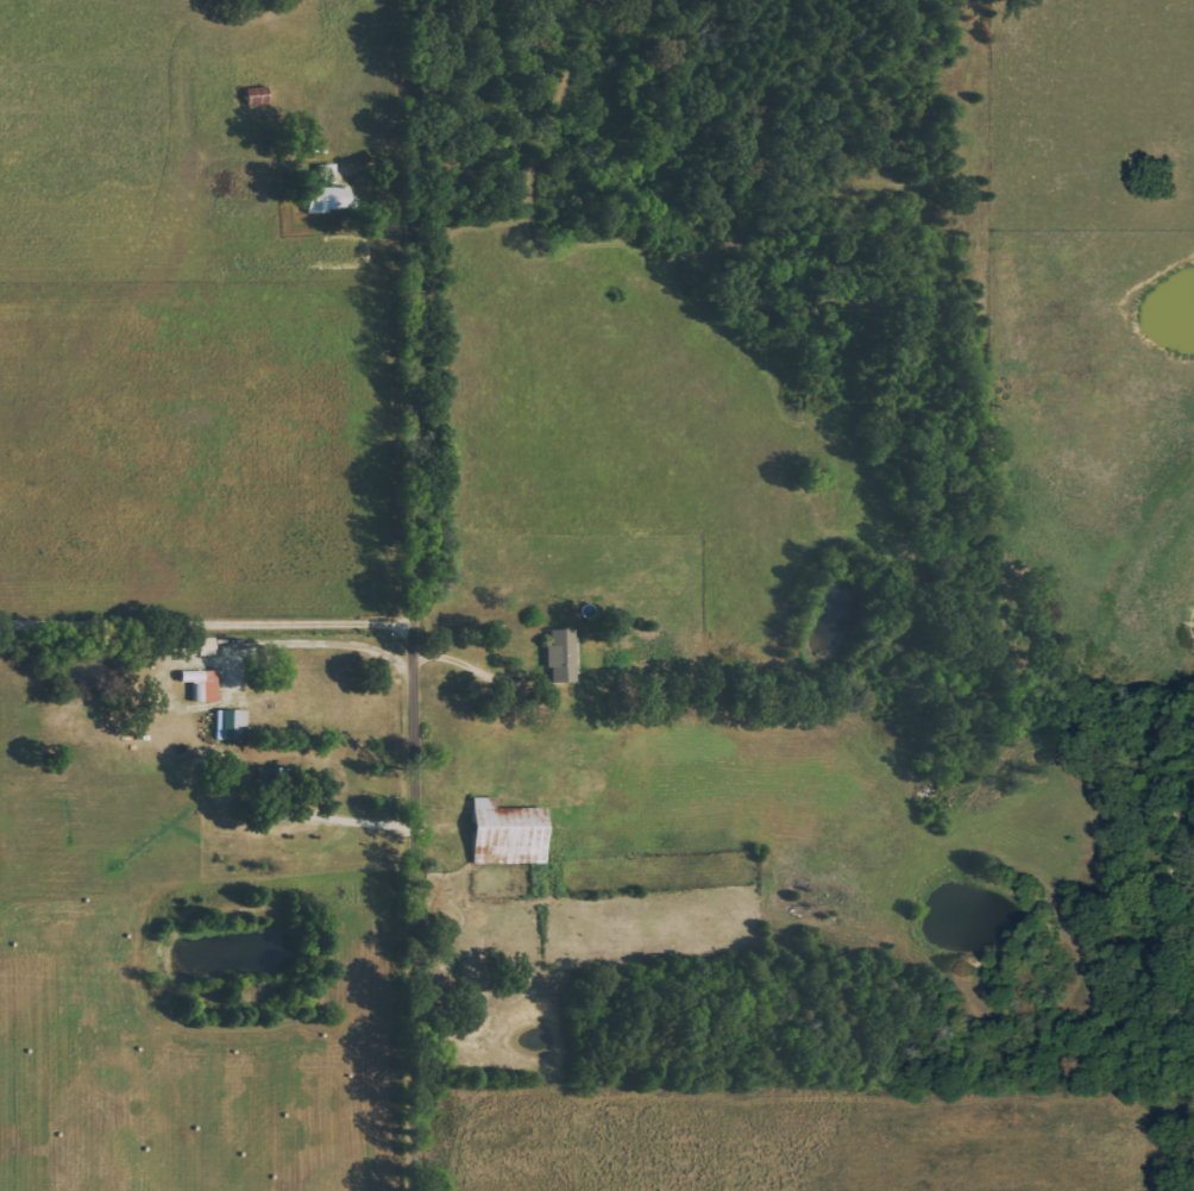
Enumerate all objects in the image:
building: (328, 174)
building: (329, 199)
road: (415, 595)
building: (209, 647)
building: (564, 657)
road: (470, 667)
building: (199, 683)
building: (233, 725)
building: (275, 792)
building: (510, 834)

